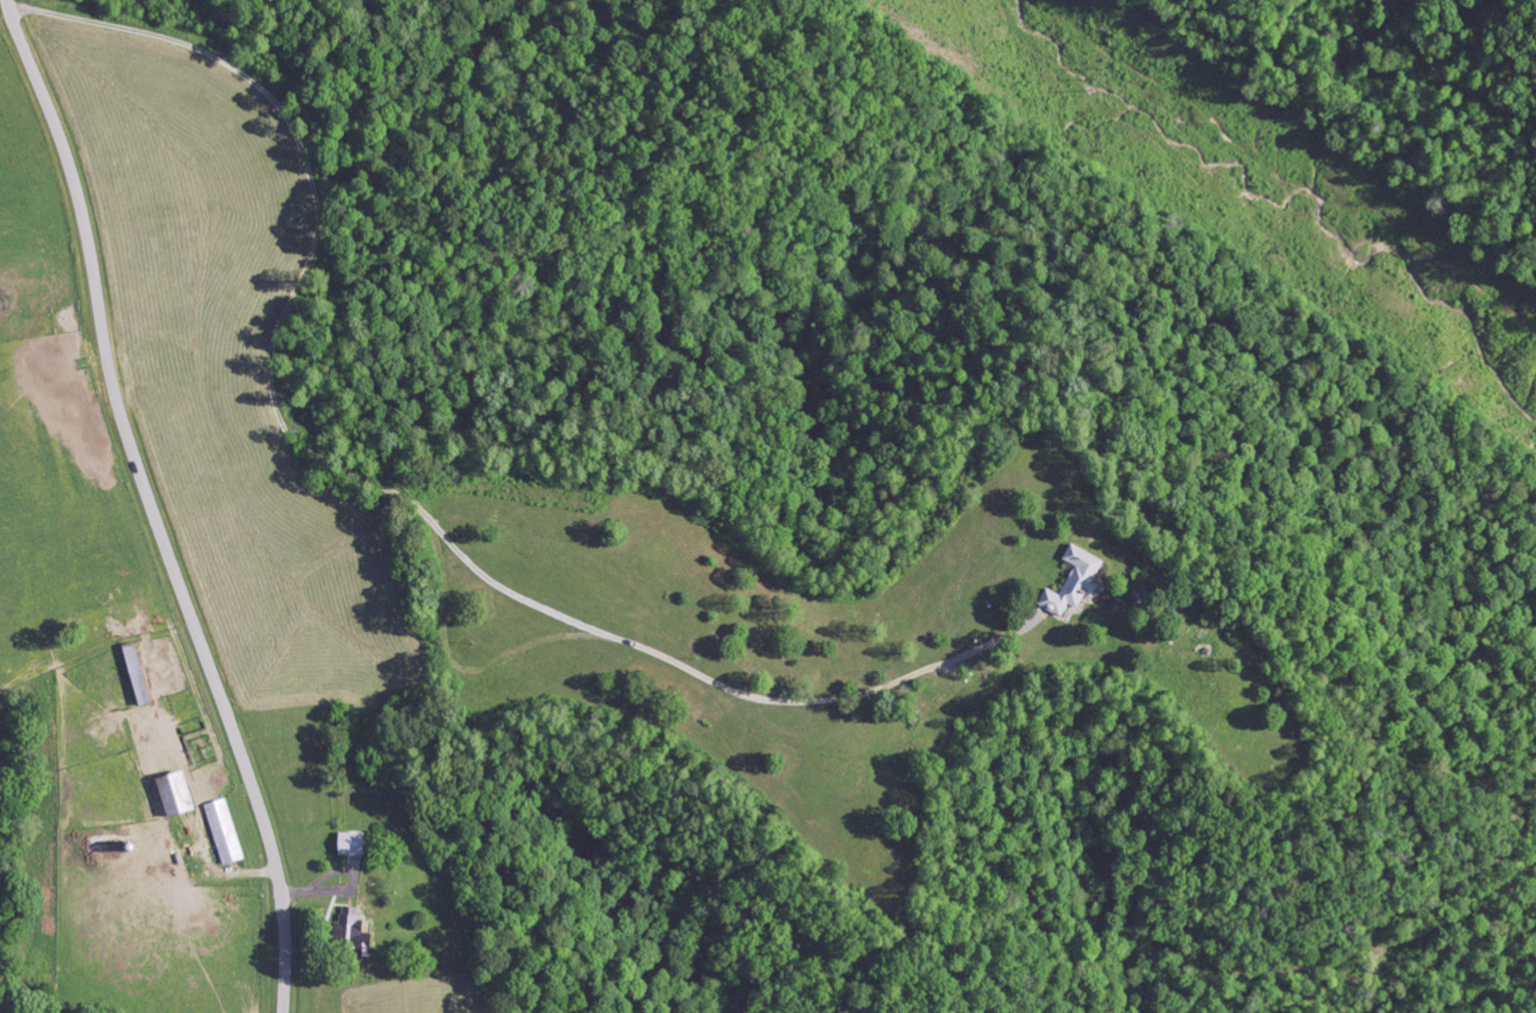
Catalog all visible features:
power tower: (1101, 74)
road: (149, 506)
building: (1070, 582)
building: (142, 674)
building: (181, 794)
building: (226, 832)
road: (554, 840)
building: (357, 843)
building: (357, 930)
road: (1328, 1010)

